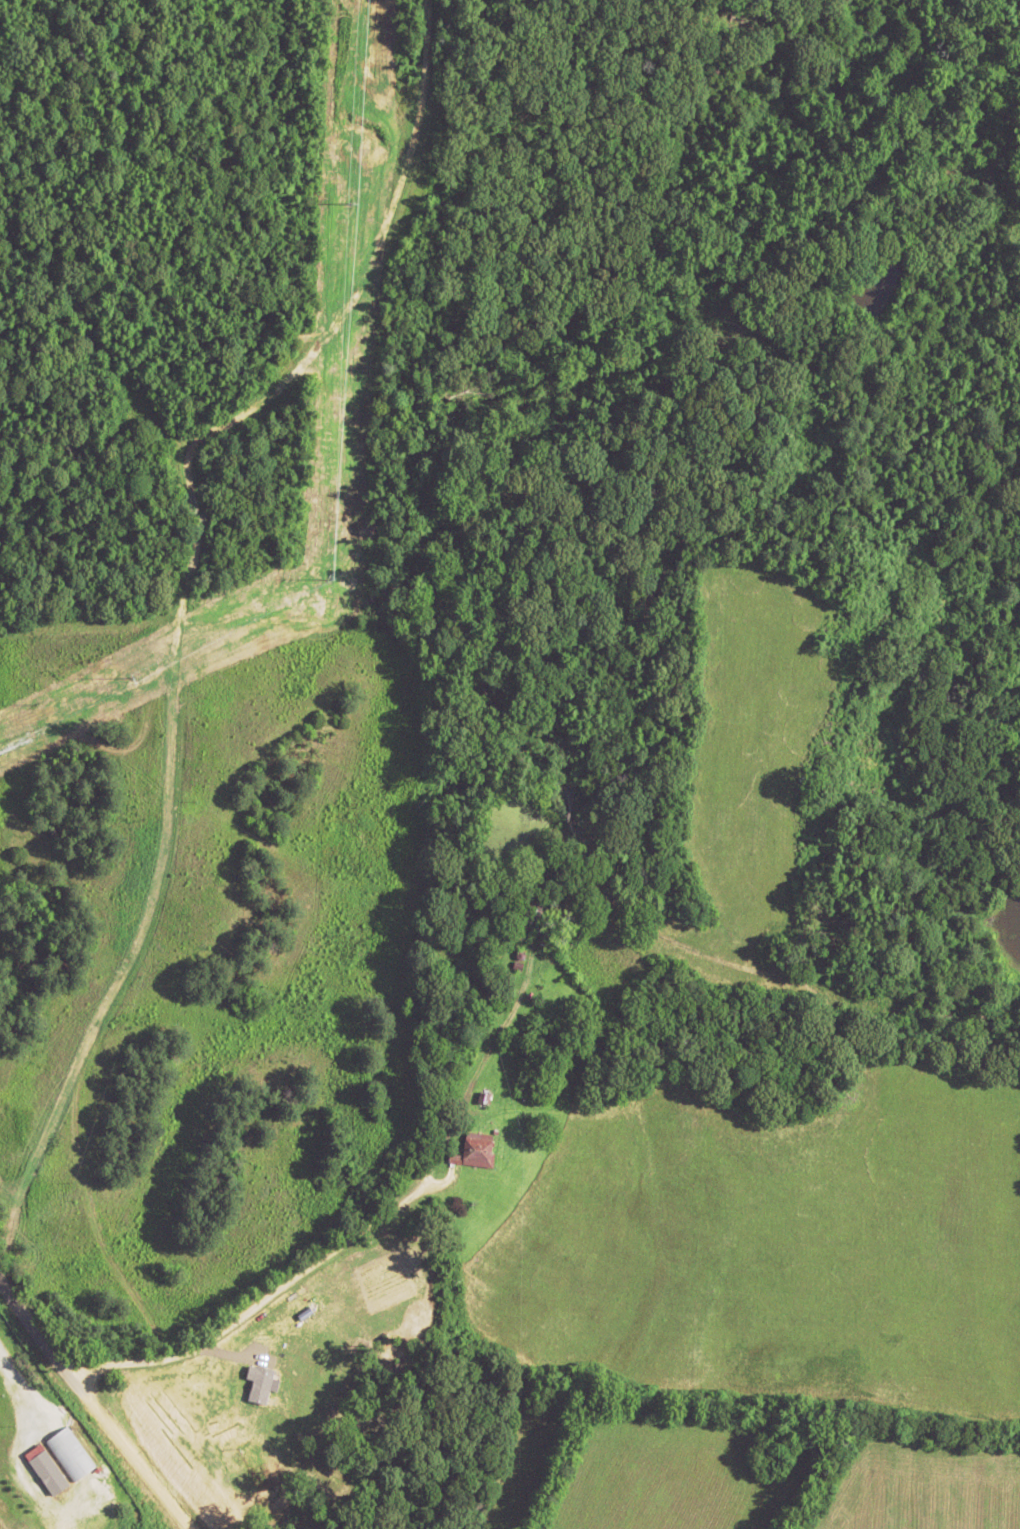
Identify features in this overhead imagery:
road: (195, 1108)
road: (455, 1137)
building: (474, 1149)
road: (296, 1322)
road: (82, 1415)
building: (69, 1453)
building: (46, 1469)

